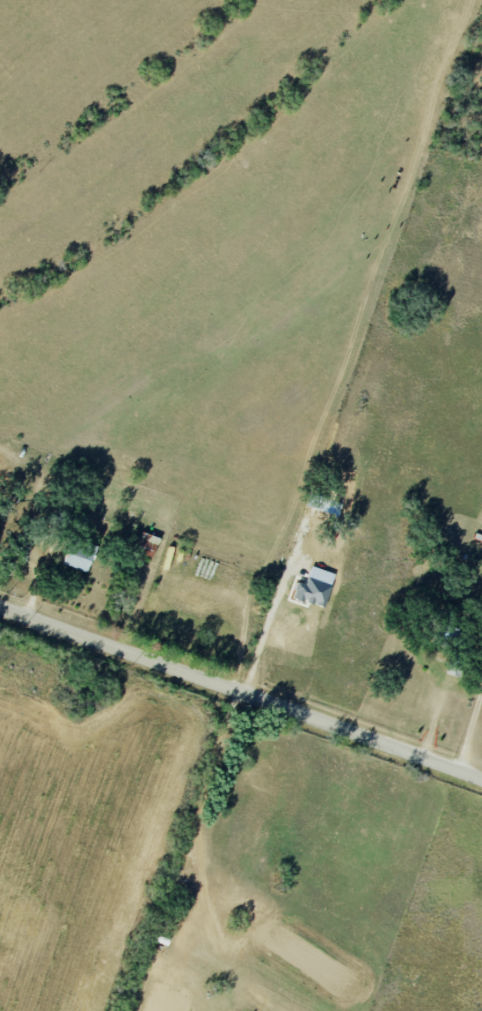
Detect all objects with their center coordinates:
building: (147, 545)
building: (80, 557)
building: (312, 593)
road: (264, 633)
road: (241, 692)
road: (468, 734)

